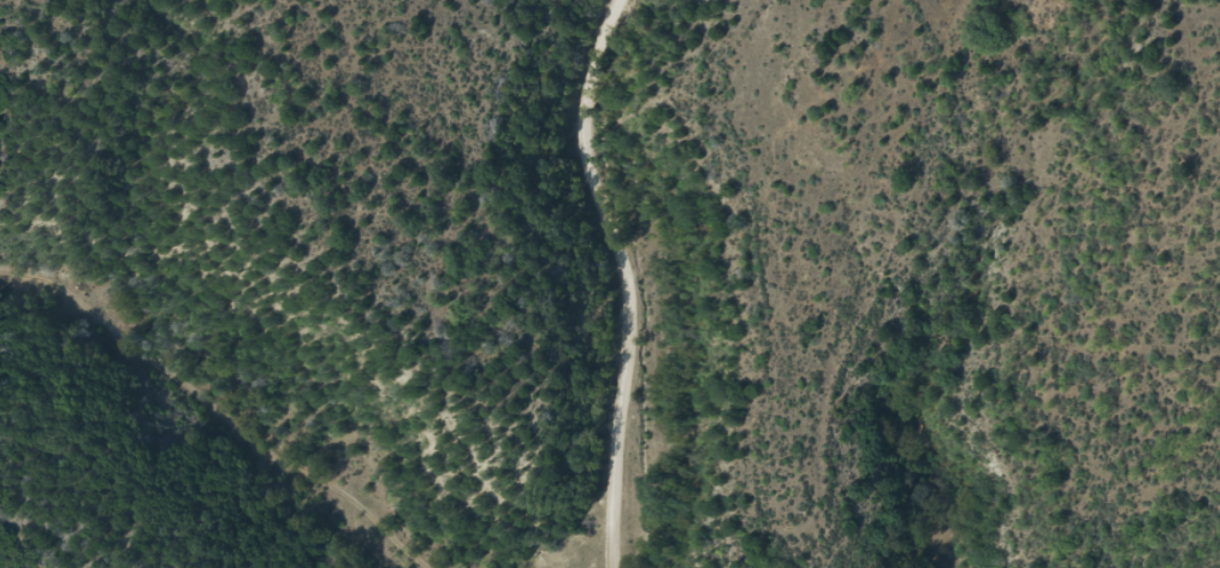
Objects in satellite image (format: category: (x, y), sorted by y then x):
road: (609, 262)
road: (199, 450)

